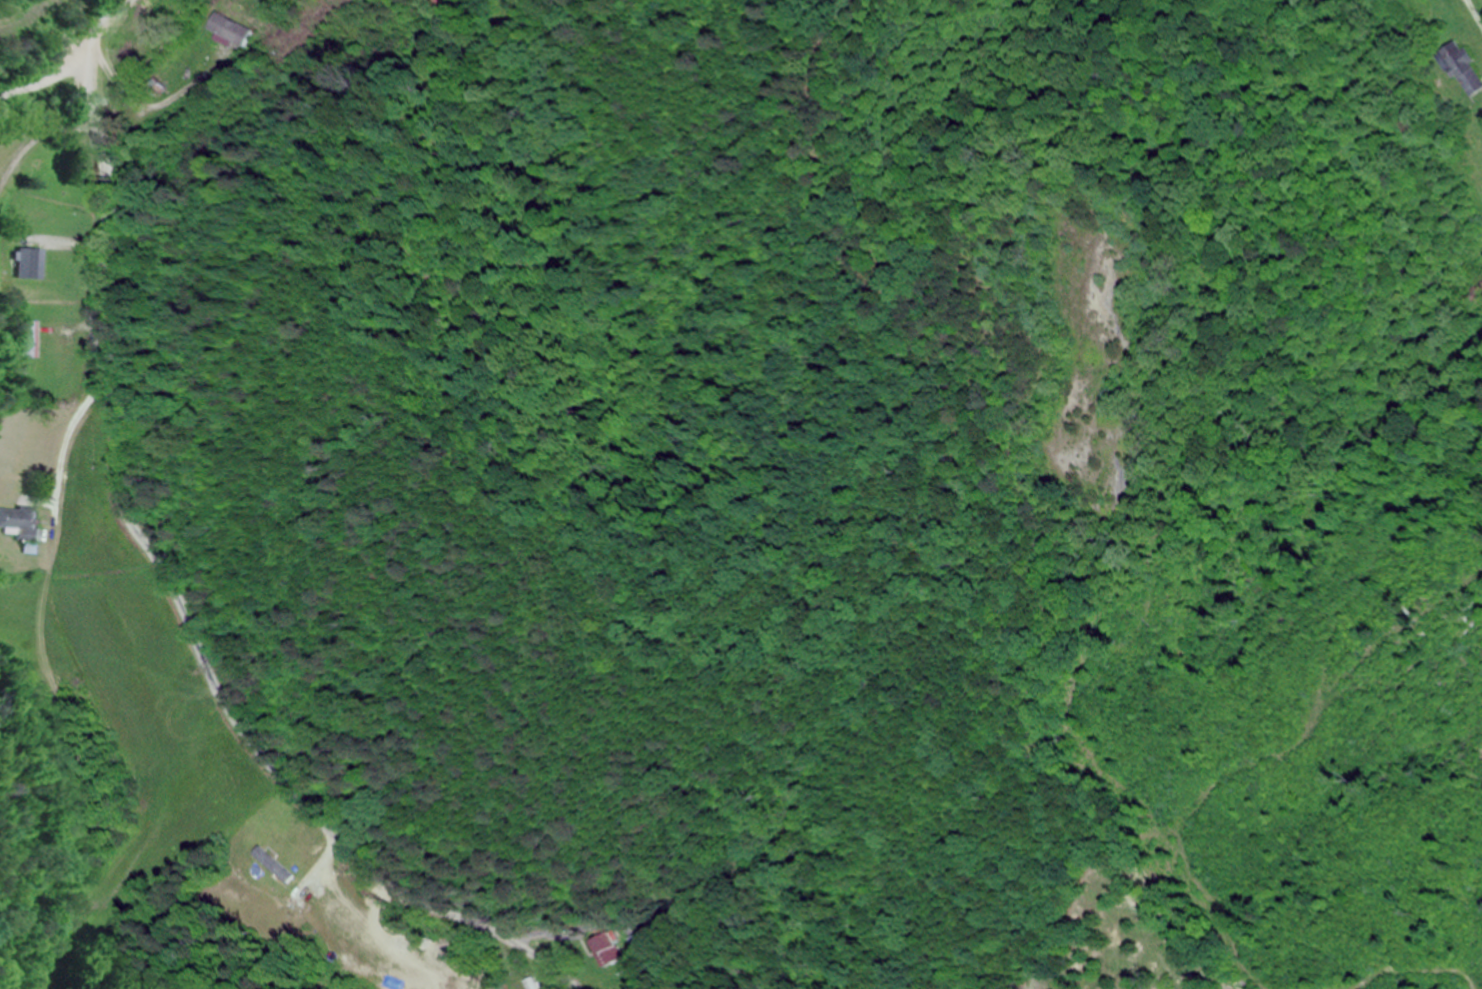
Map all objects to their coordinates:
building: (432, 3)
road: (1474, 13)
building: (226, 29)
building: (1464, 73)
road: (45, 84)
building: (27, 341)
building: (14, 446)
building: (22, 524)
road: (160, 574)
road: (46, 618)
building: (636, 945)
building: (603, 950)

